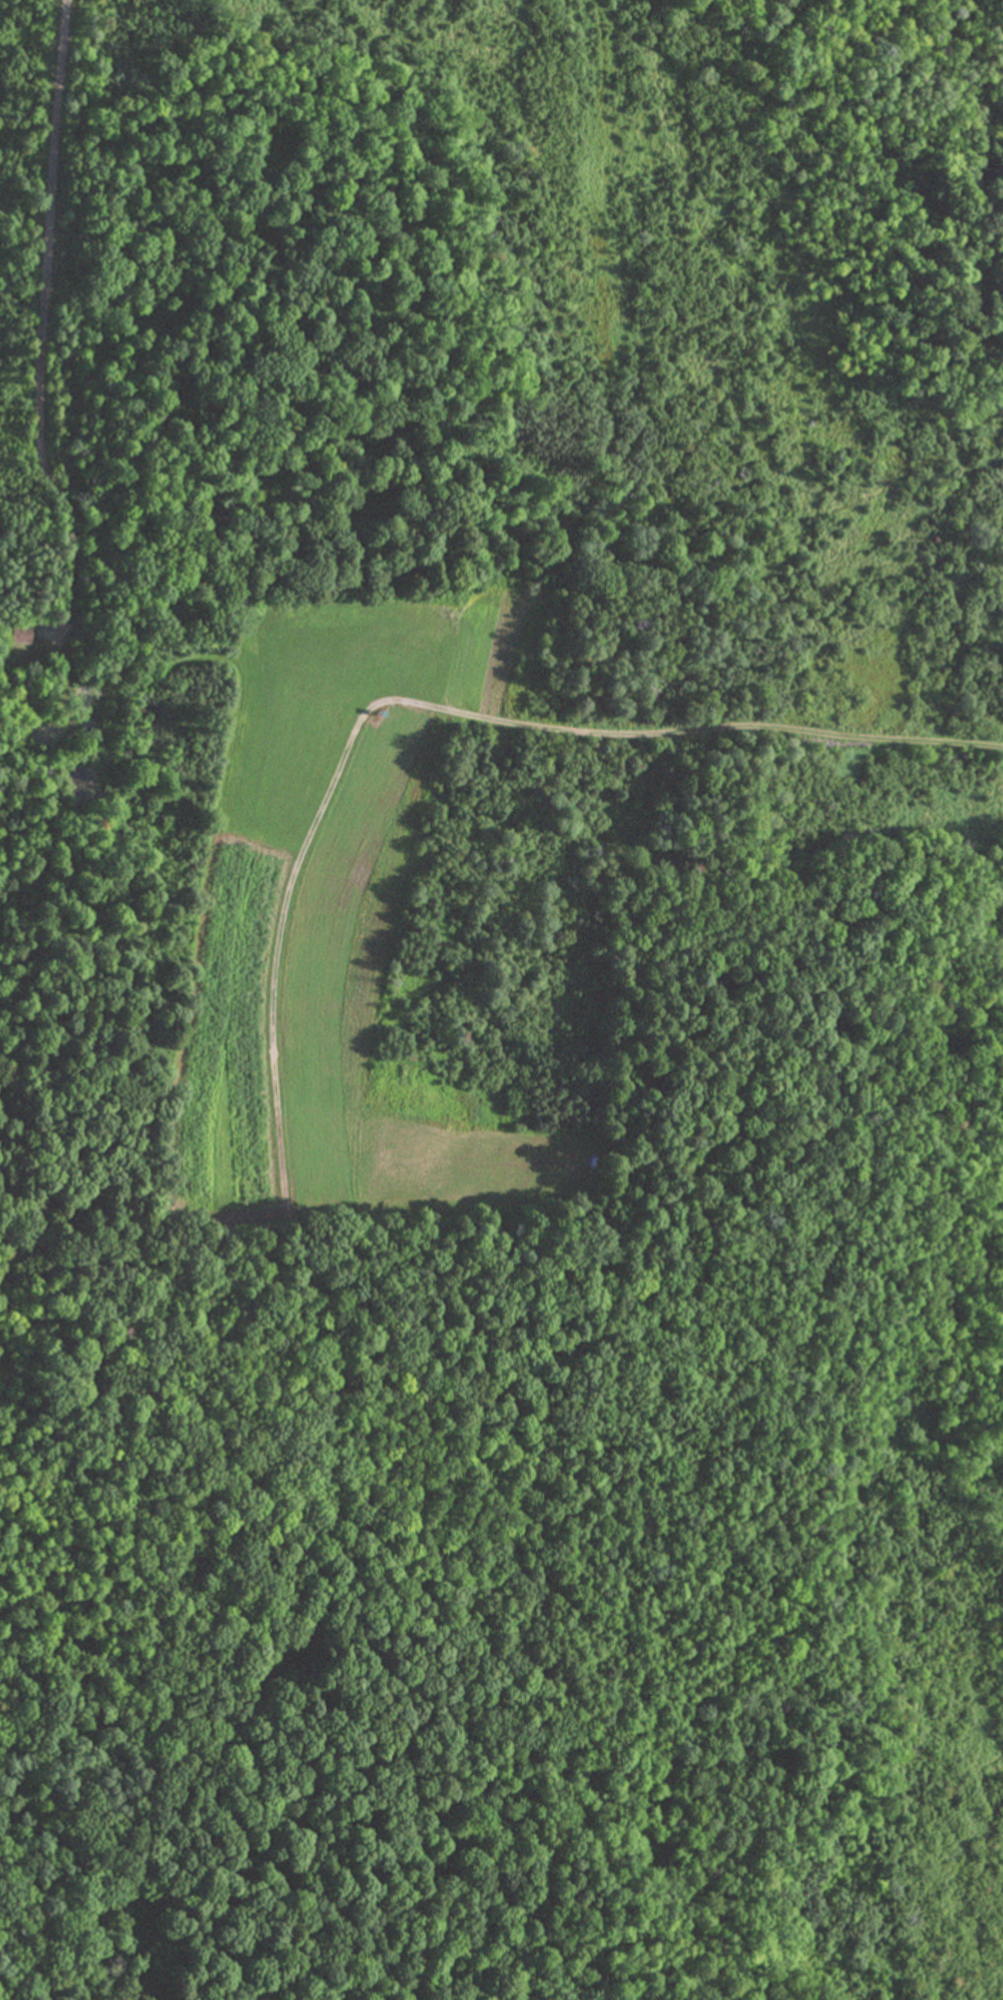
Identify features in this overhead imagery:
building: (19, 635)

